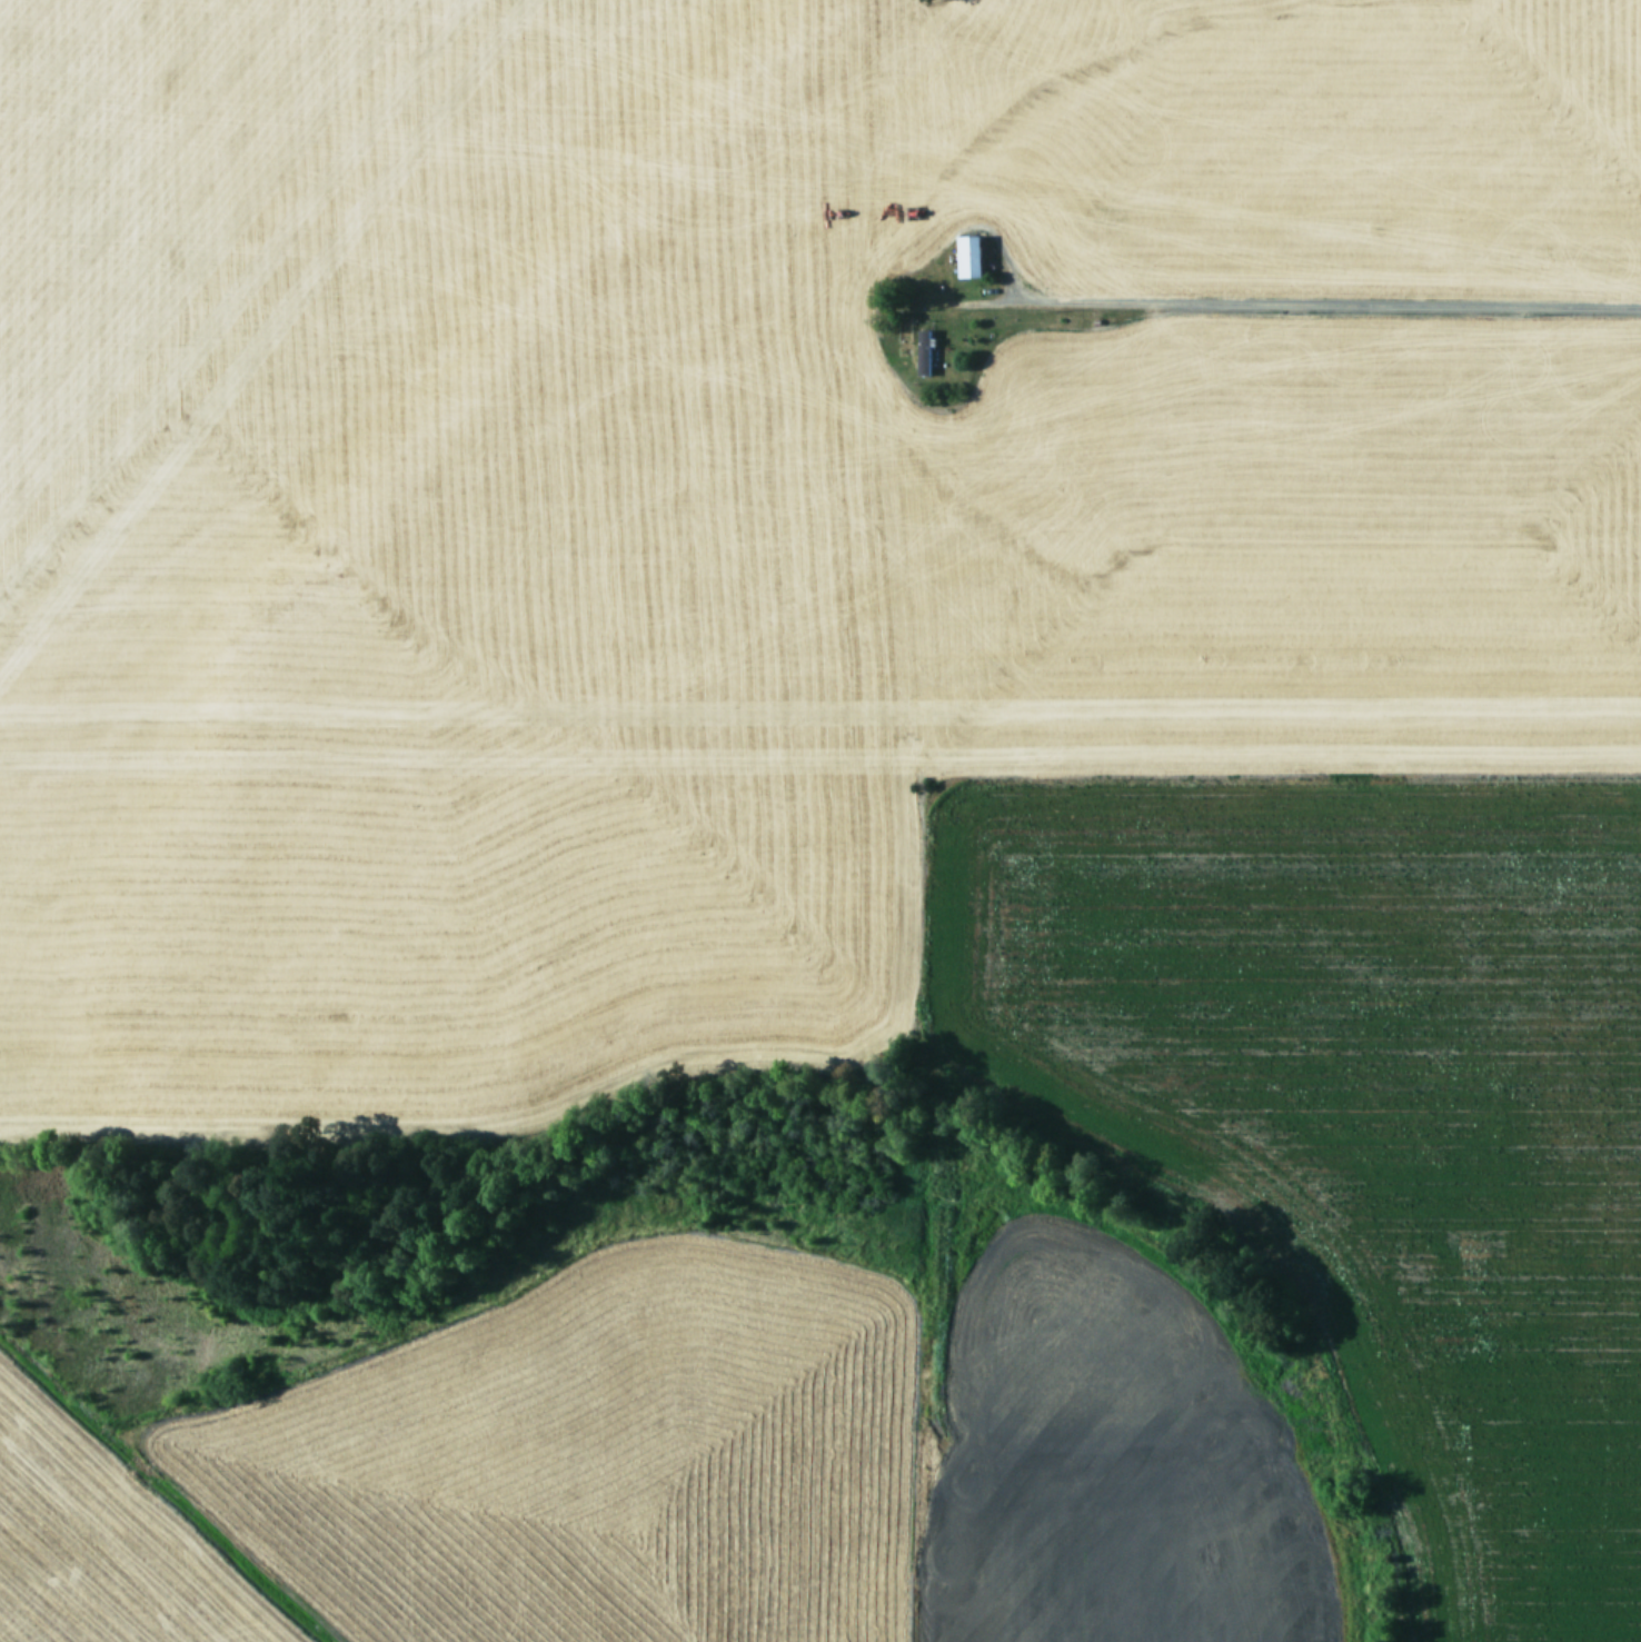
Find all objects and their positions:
building: (968, 255)
road: (1331, 300)
crop: (820, 820)

